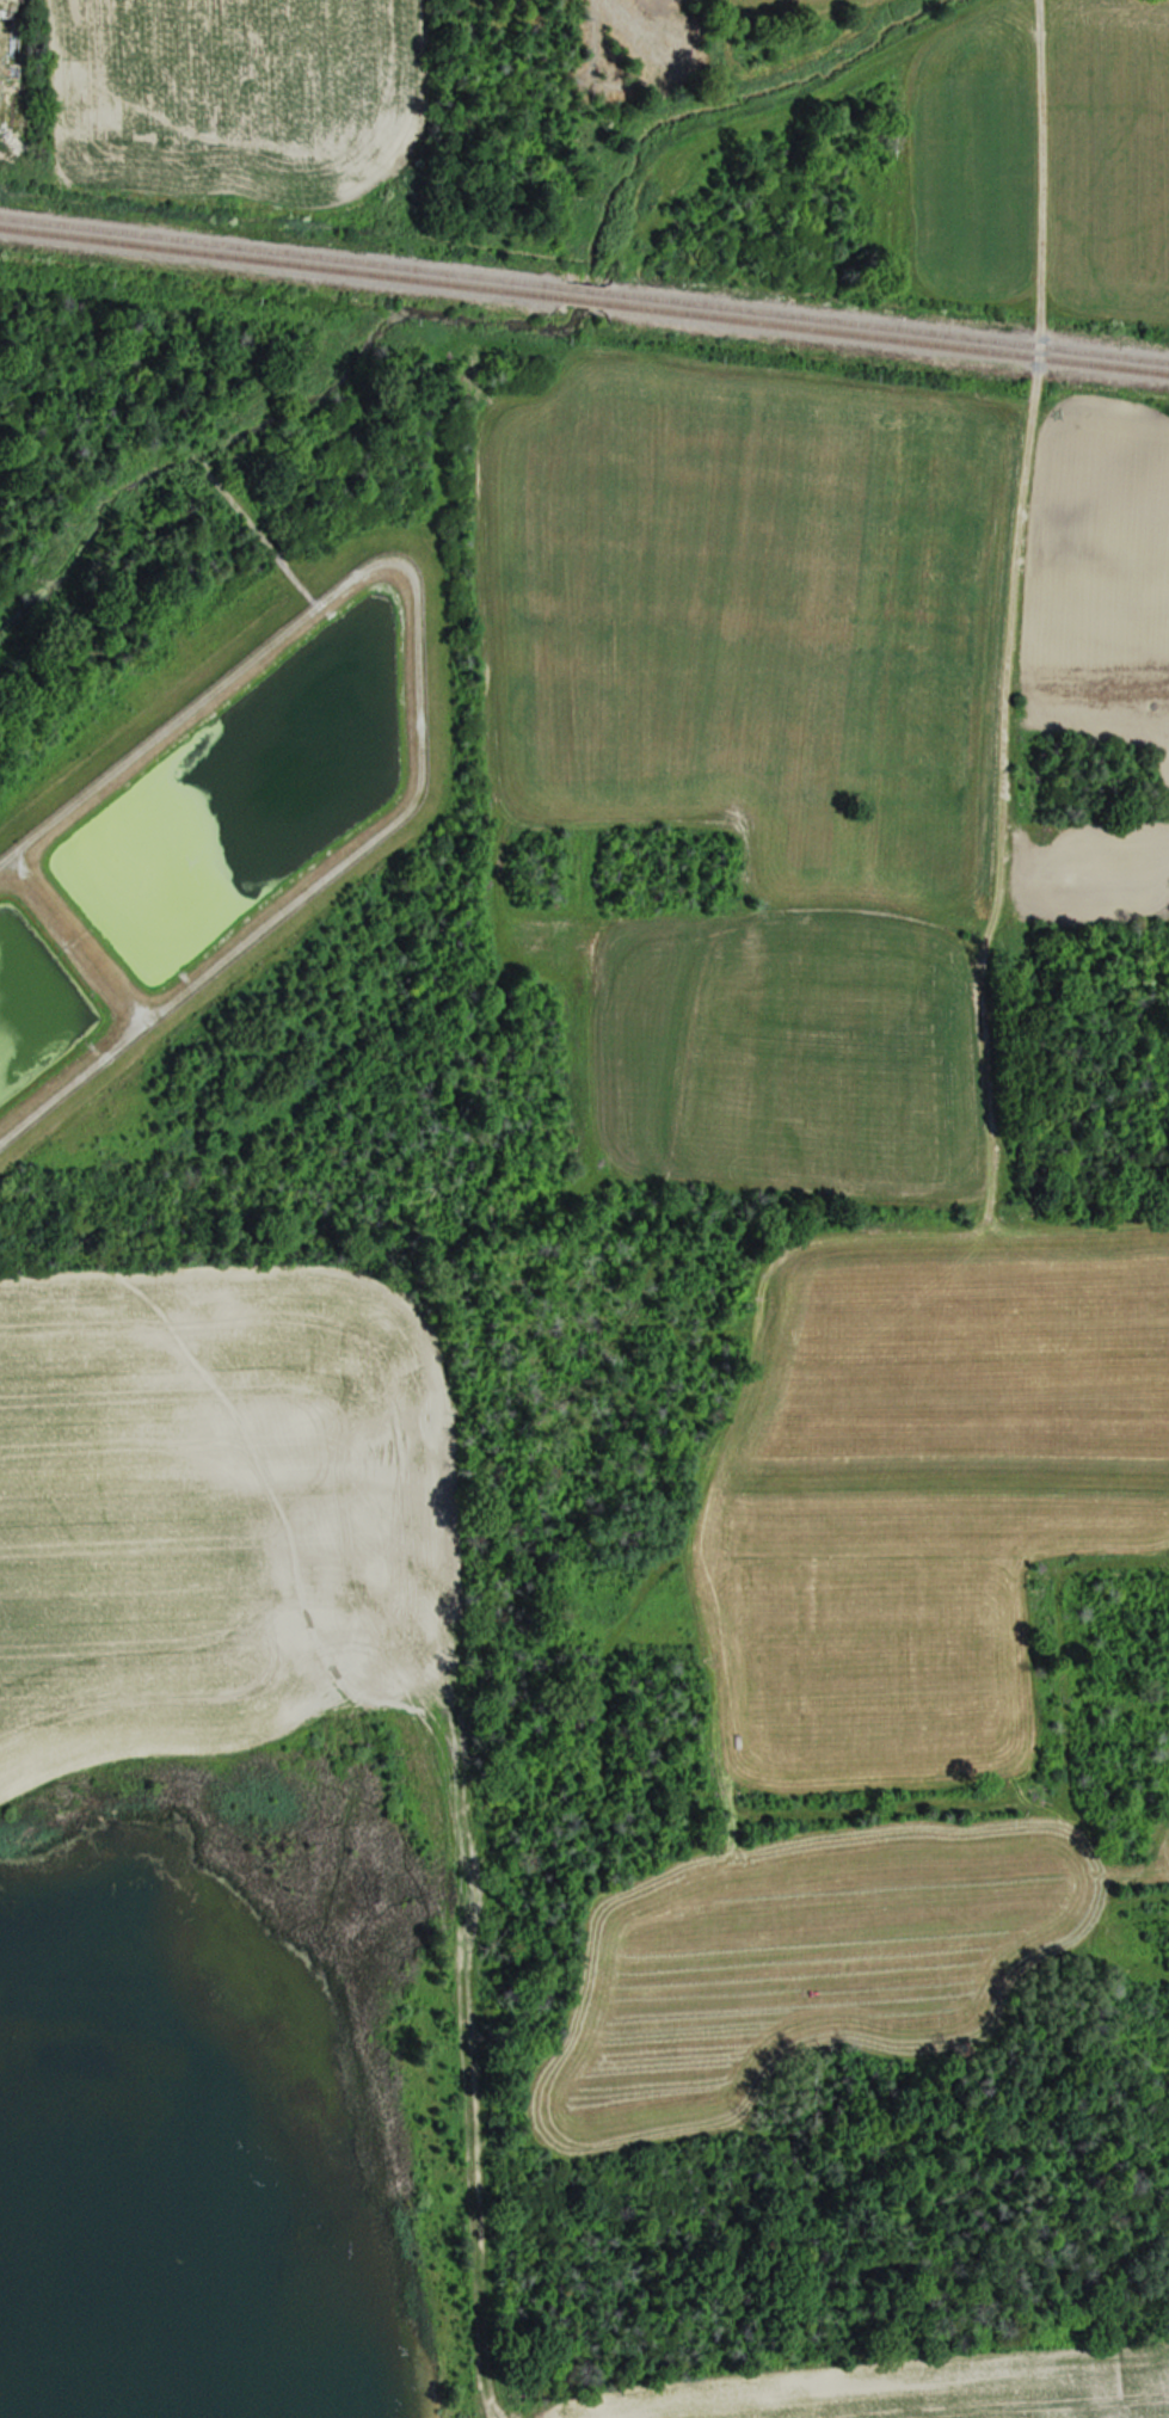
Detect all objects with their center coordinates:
railway: (584, 290)
railway: (584, 302)
river: (472, 319)

